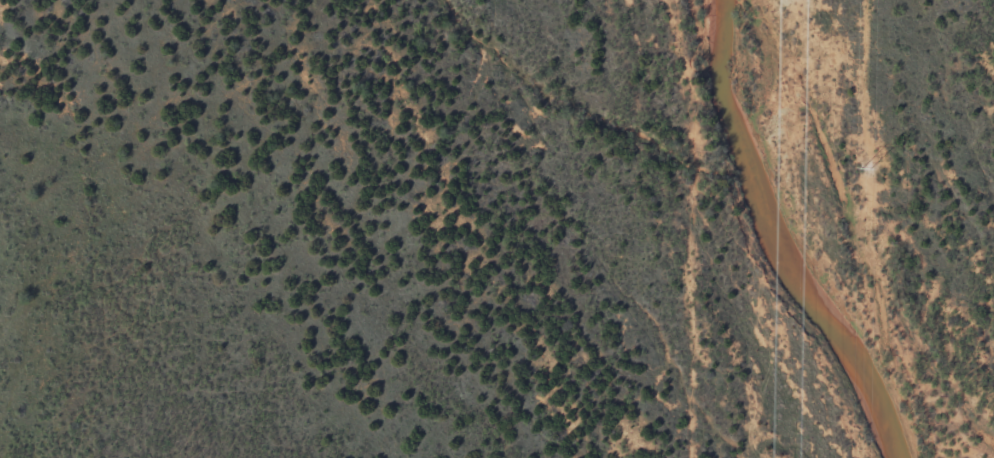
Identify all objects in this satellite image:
power tower: (865, 167)
river: (778, 240)

